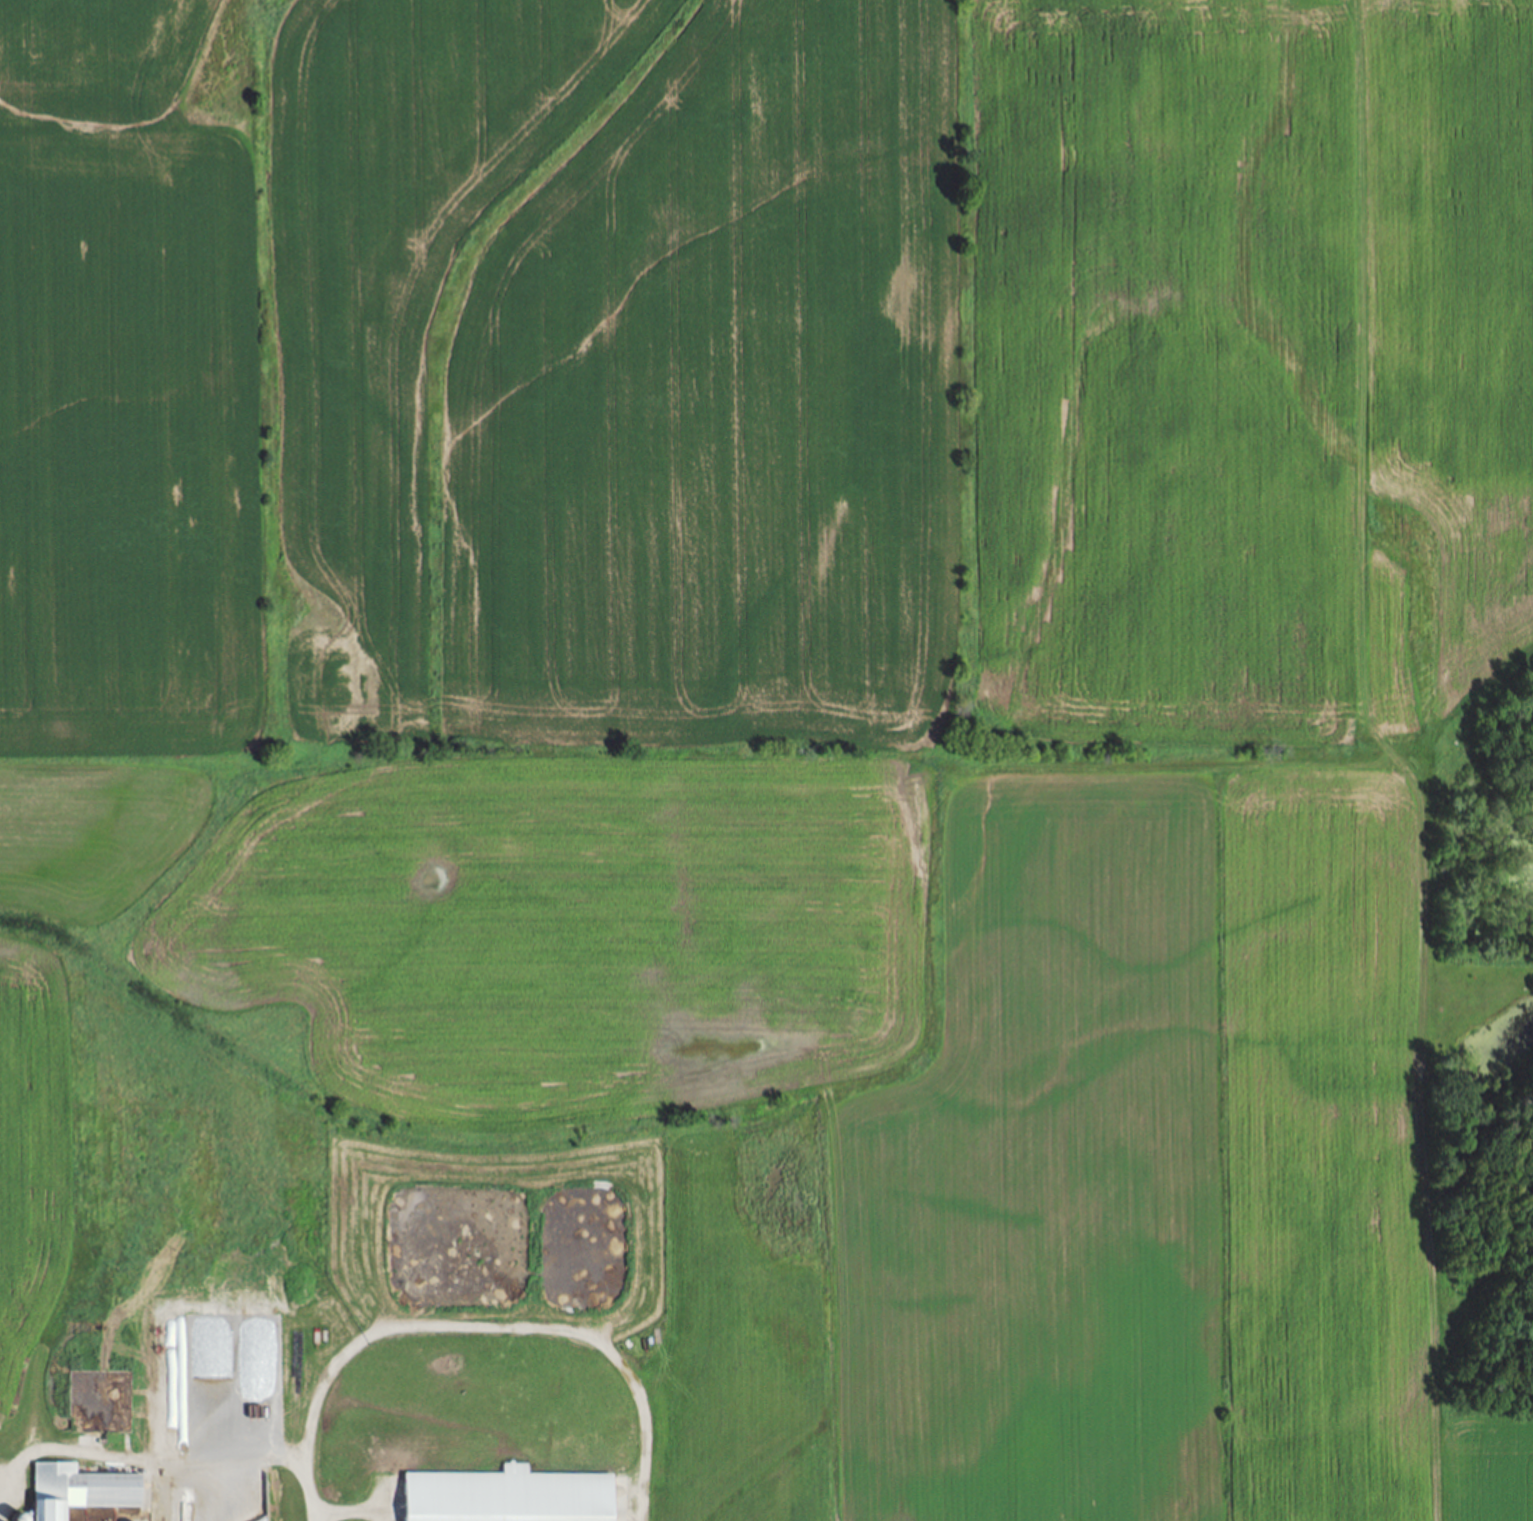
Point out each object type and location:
road: (476, 1331)
road: (144, 1461)
building: (82, 1491)
building: (510, 1497)

